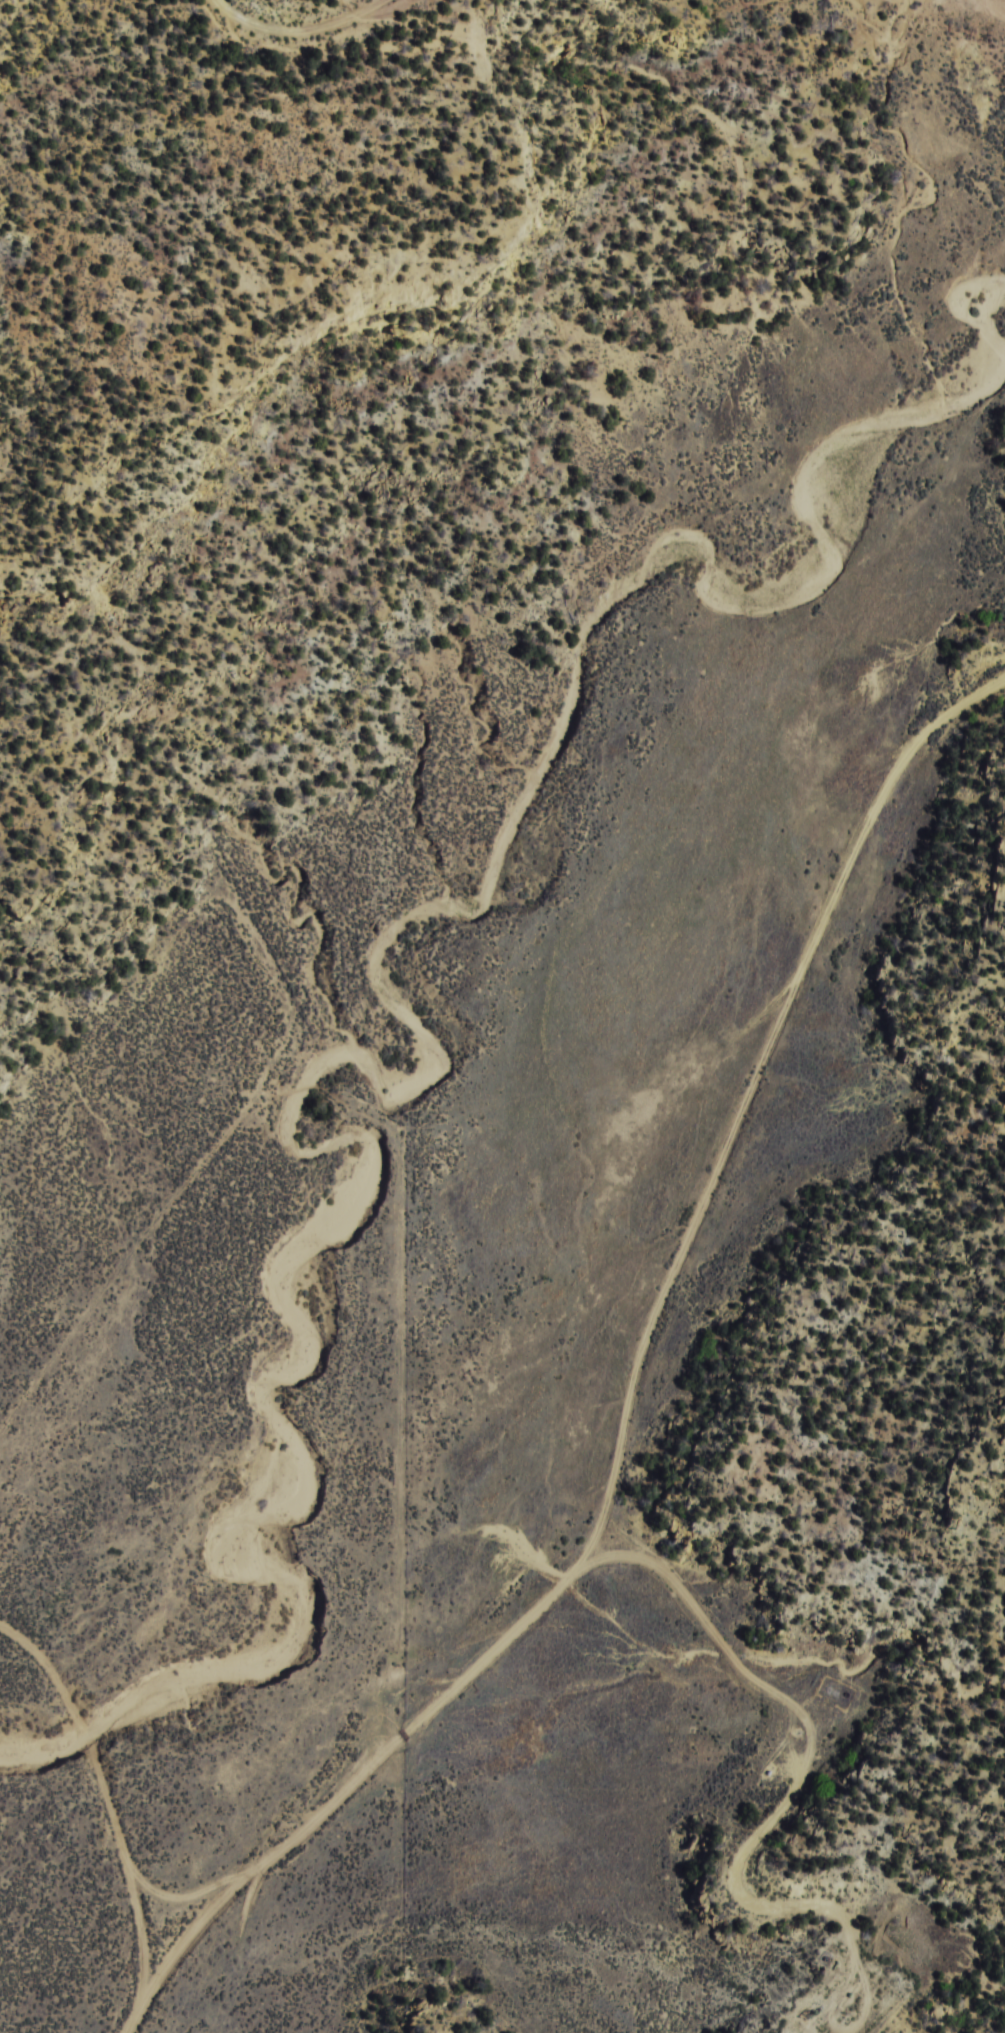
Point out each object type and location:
road: (297, 18)
road: (651, 1364)
road: (614, 1595)
road: (691, 1675)
road: (137, 1797)
road: (212, 1885)

